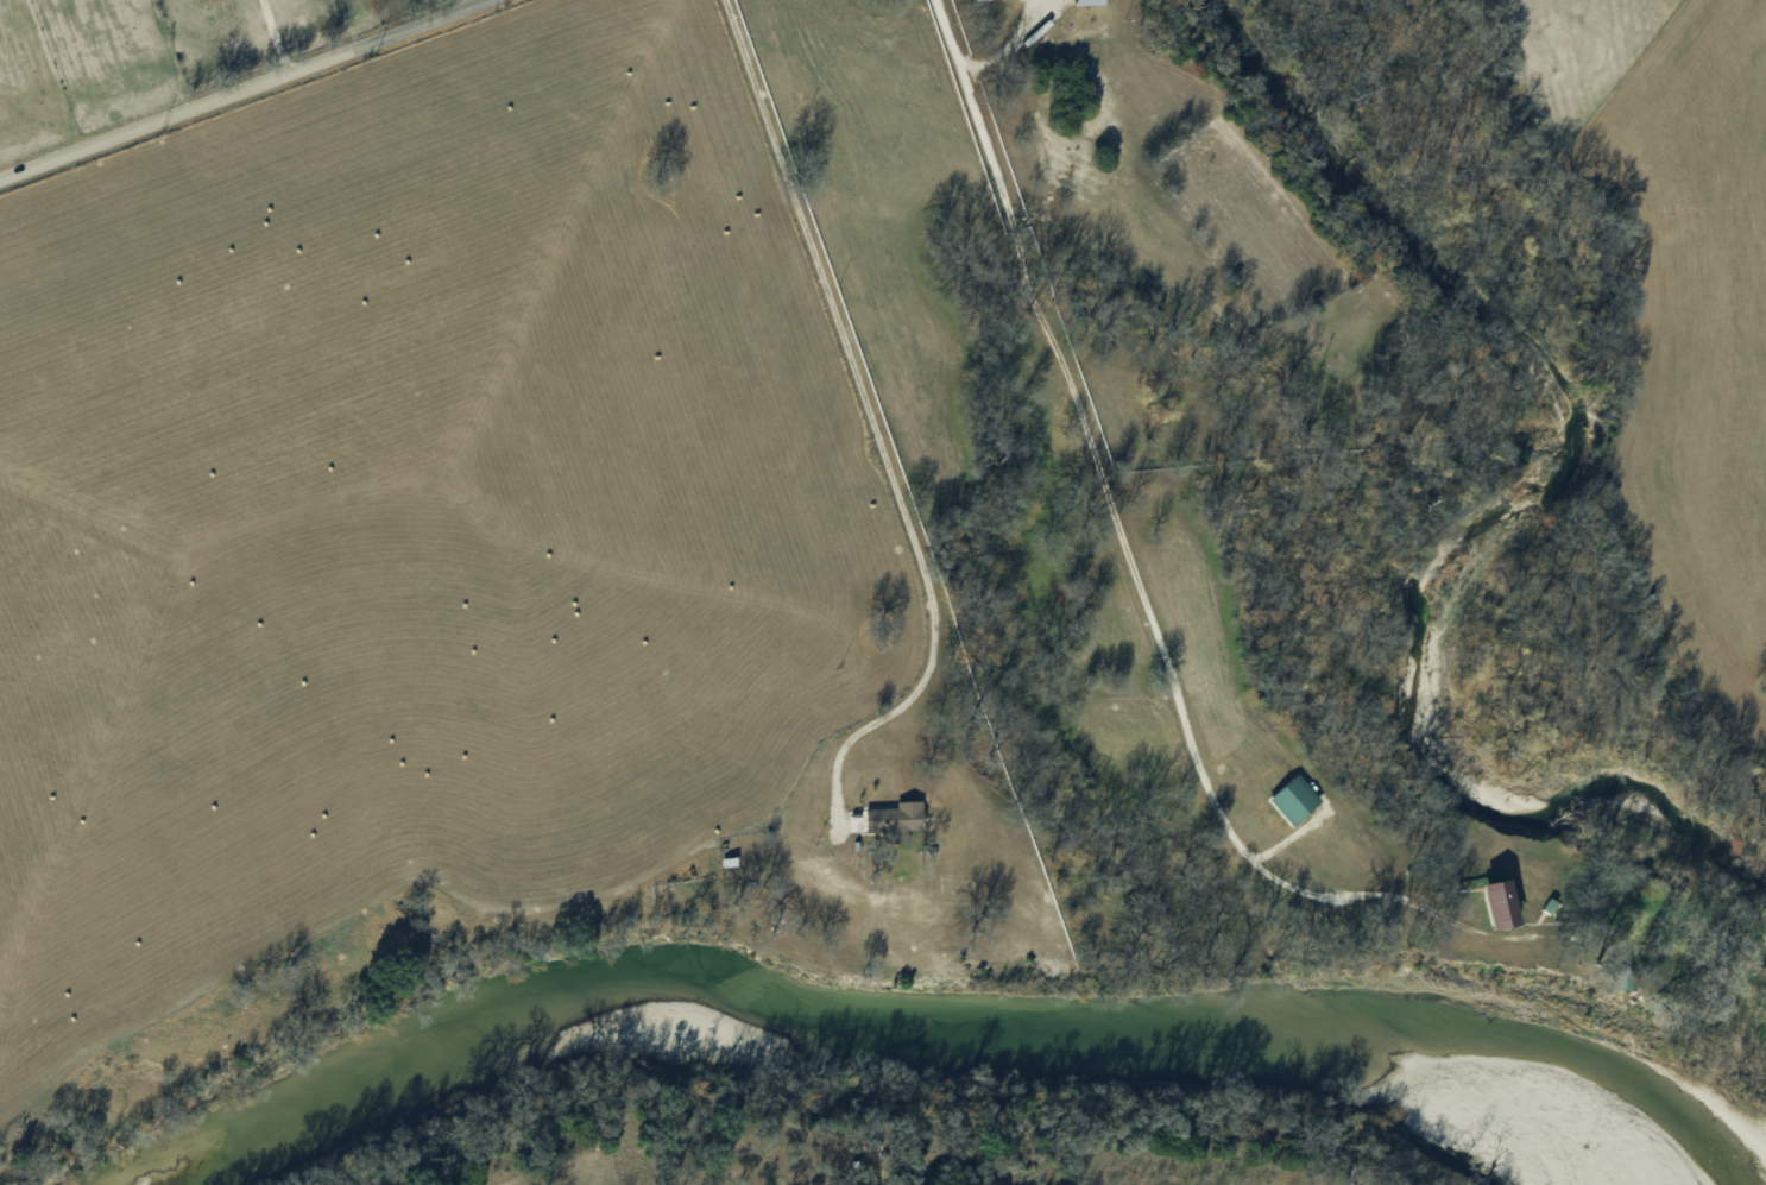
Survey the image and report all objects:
building: (1086, 1)
road: (272, 33)
road: (236, 86)
road: (832, 297)
road: (1123, 535)
road: (900, 706)
building: (1291, 799)
building: (893, 819)
building: (1491, 903)
river: (789, 1004)
river: (1619, 1104)

